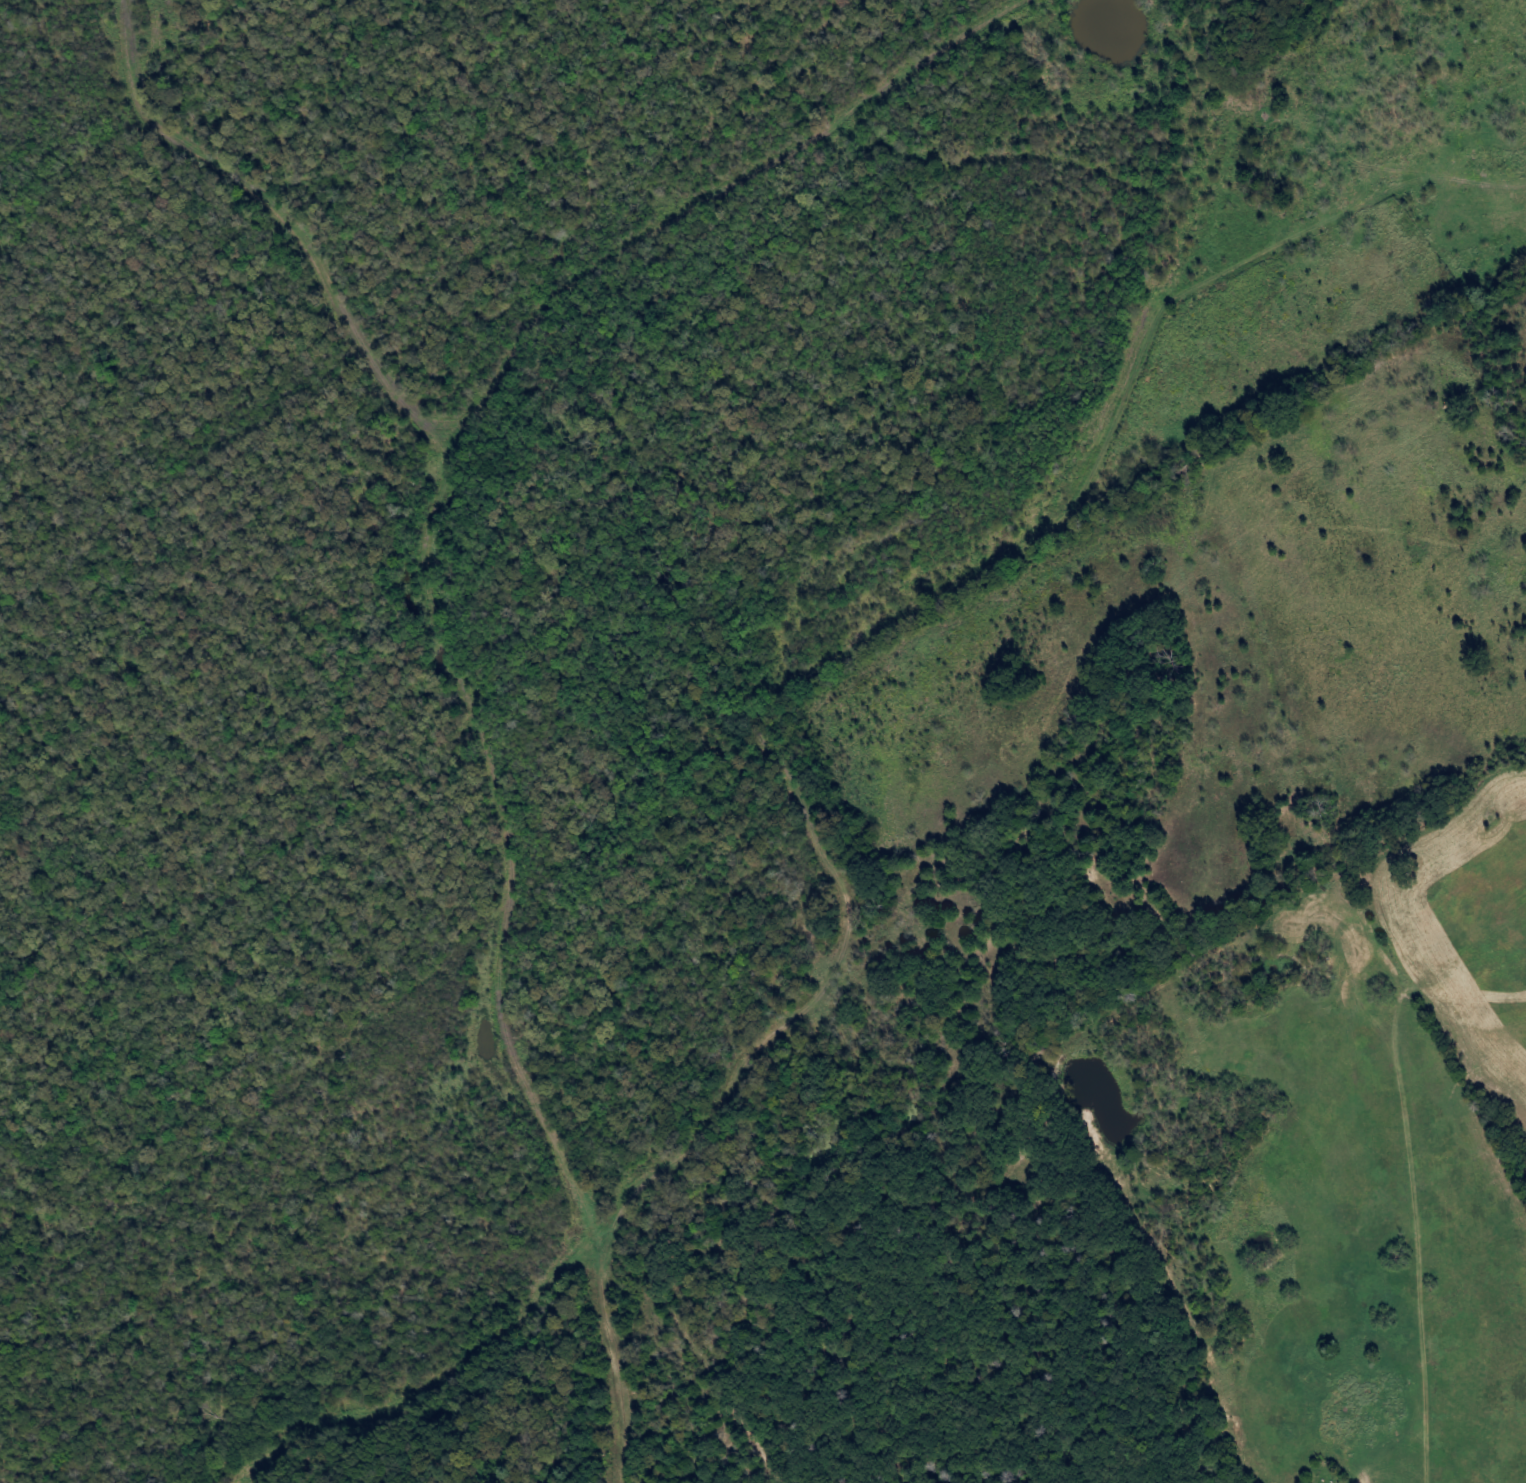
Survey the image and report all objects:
road: (1424, 1414)

